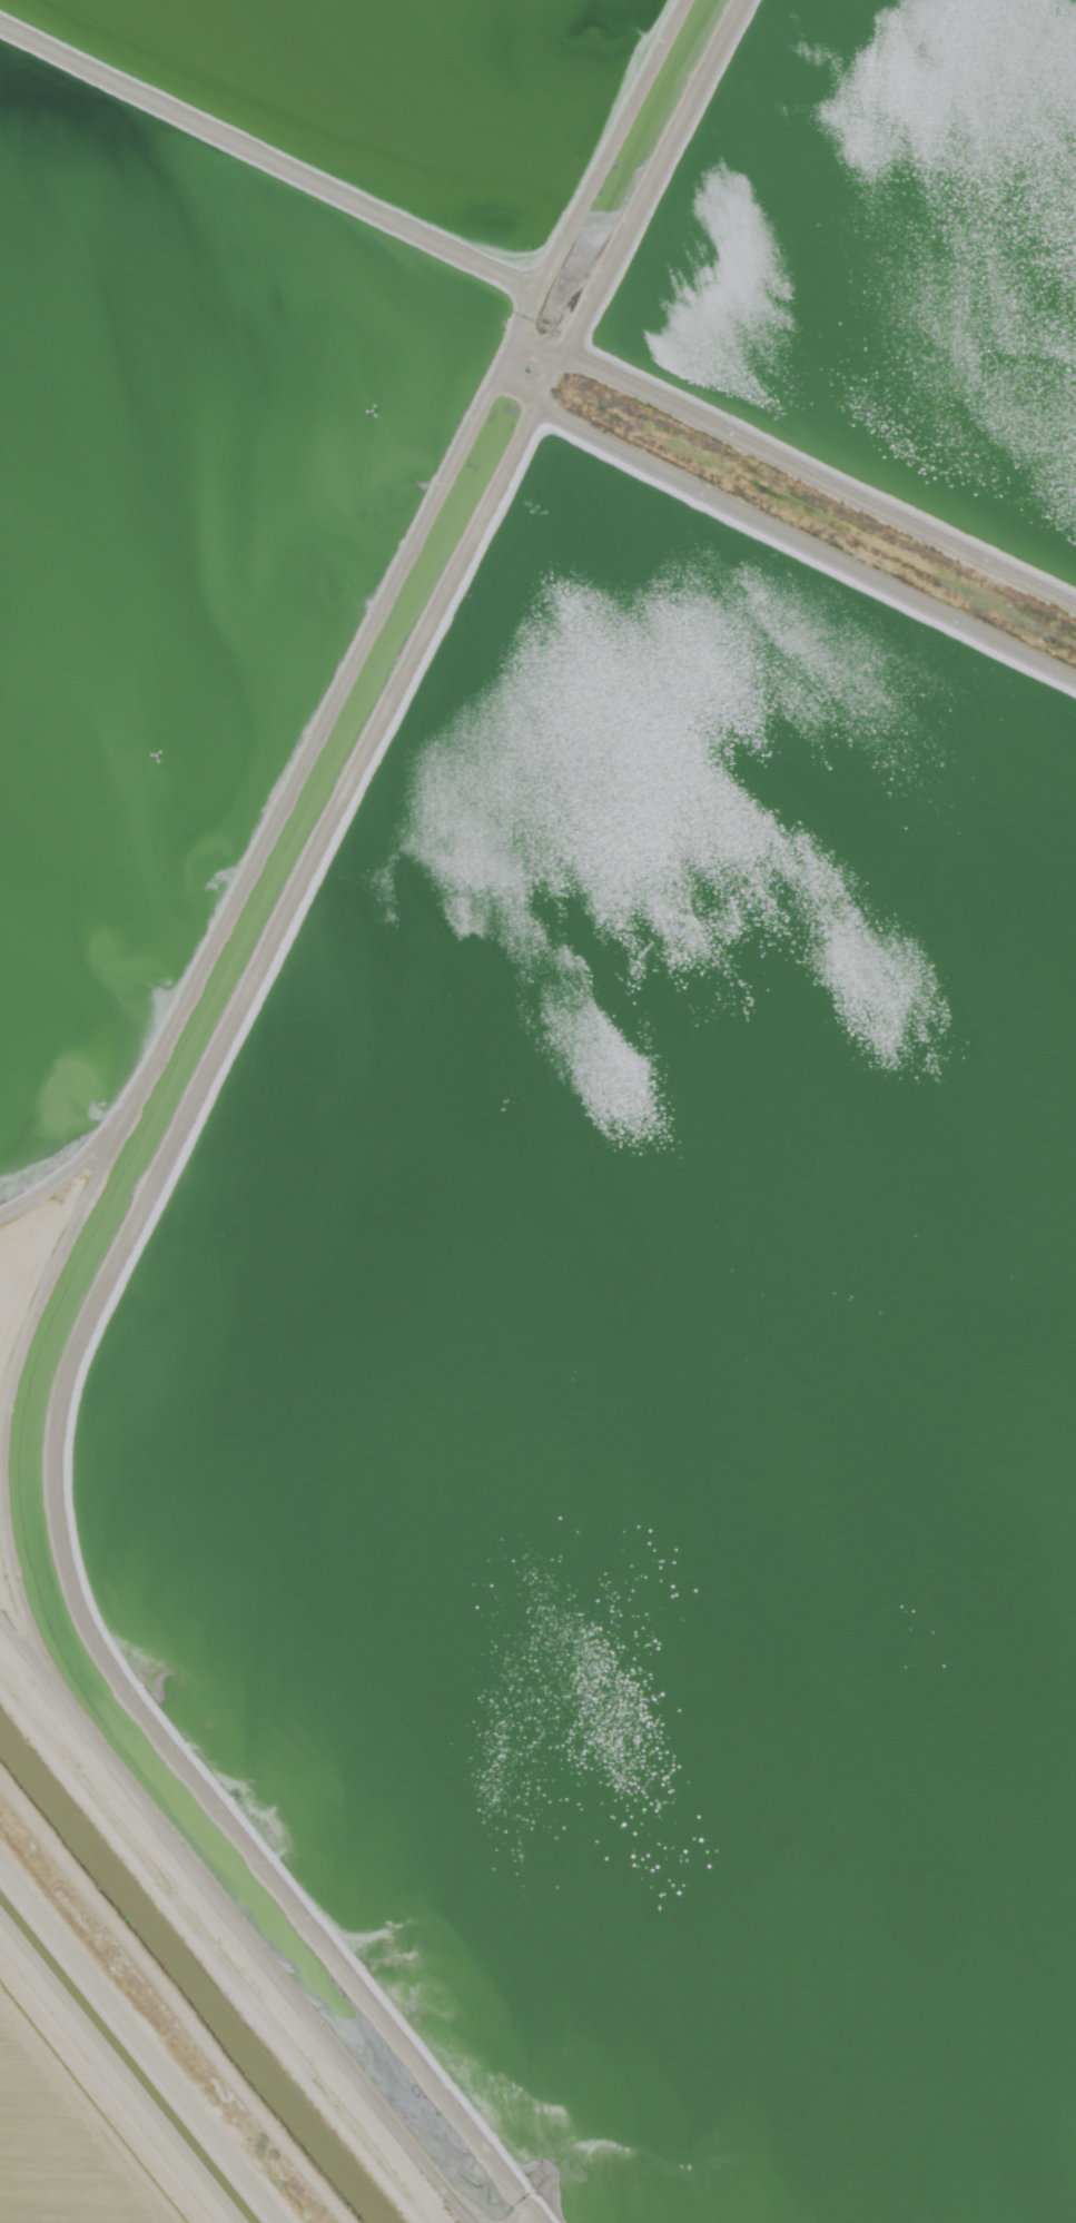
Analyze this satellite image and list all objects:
road: (265, 1884)
road: (139, 2044)
crop: (128, 2063)

